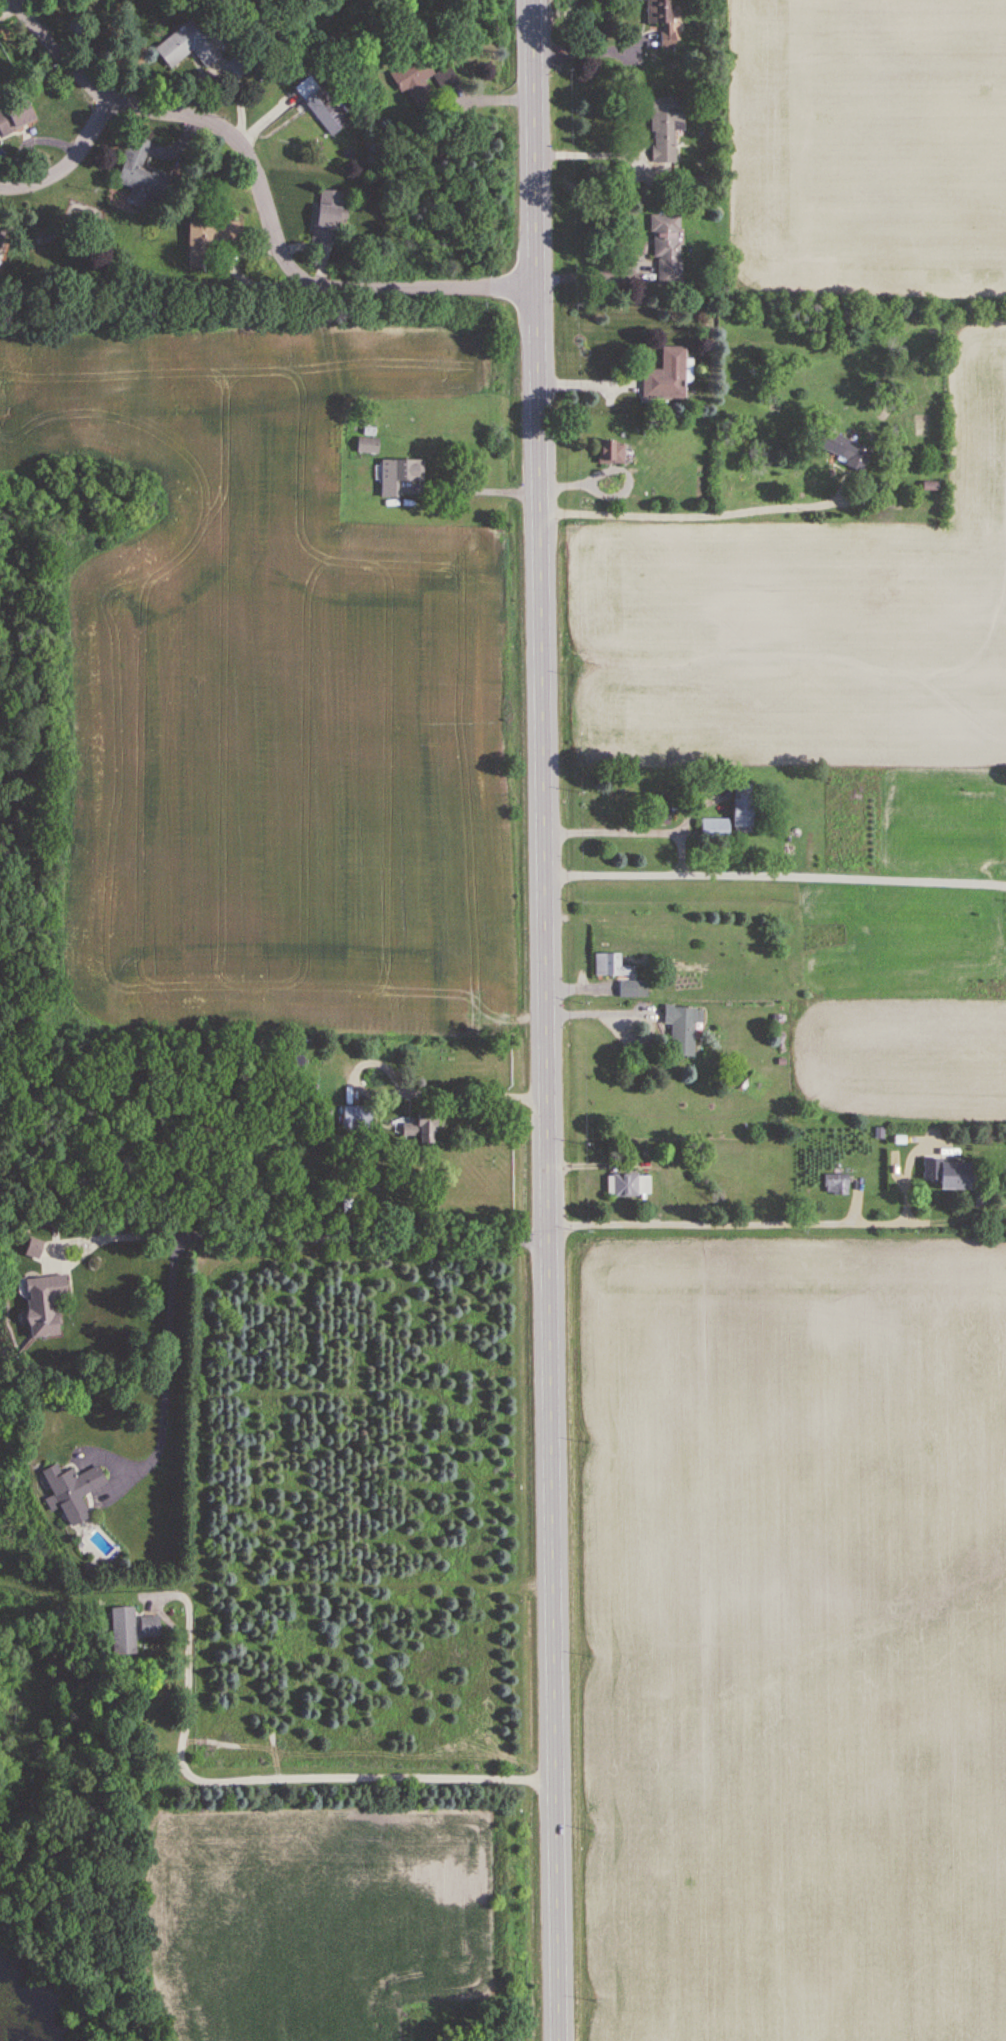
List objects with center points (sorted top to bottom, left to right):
building: (662, 20)
building: (185, 46)
road: (592, 53)
building: (413, 78)
road: (482, 98)
road: (105, 105)
building: (321, 105)
building: (15, 115)
building: (666, 128)
road: (589, 157)
building: (141, 176)
building: (328, 216)
building: (208, 238)
building: (666, 246)
road: (285, 253)
road: (594, 277)
building: (666, 375)
building: (367, 445)
building: (318, 448)
building: (842, 448)
building: (610, 451)
building: (398, 476)
building: (338, 484)
road: (486, 486)
road: (692, 508)
building: (741, 808)
road: (628, 826)
building: (715, 827)
road: (775, 870)
building: (610, 966)
building: (633, 990)
road: (600, 1014)
road: (547, 1020)
building: (682, 1029)
road: (459, 1092)
building: (357, 1117)
building: (327, 1122)
building: (419, 1128)
road: (907, 1169)
building: (947, 1174)
building: (836, 1185)
building: (628, 1187)
road: (779, 1223)
road: (246, 1235)
road: (126, 1236)
building: (40, 1306)
building: (71, 1491)
building: (149, 1627)
building: (122, 1631)
road: (266, 1778)
river: (20, 2017)

